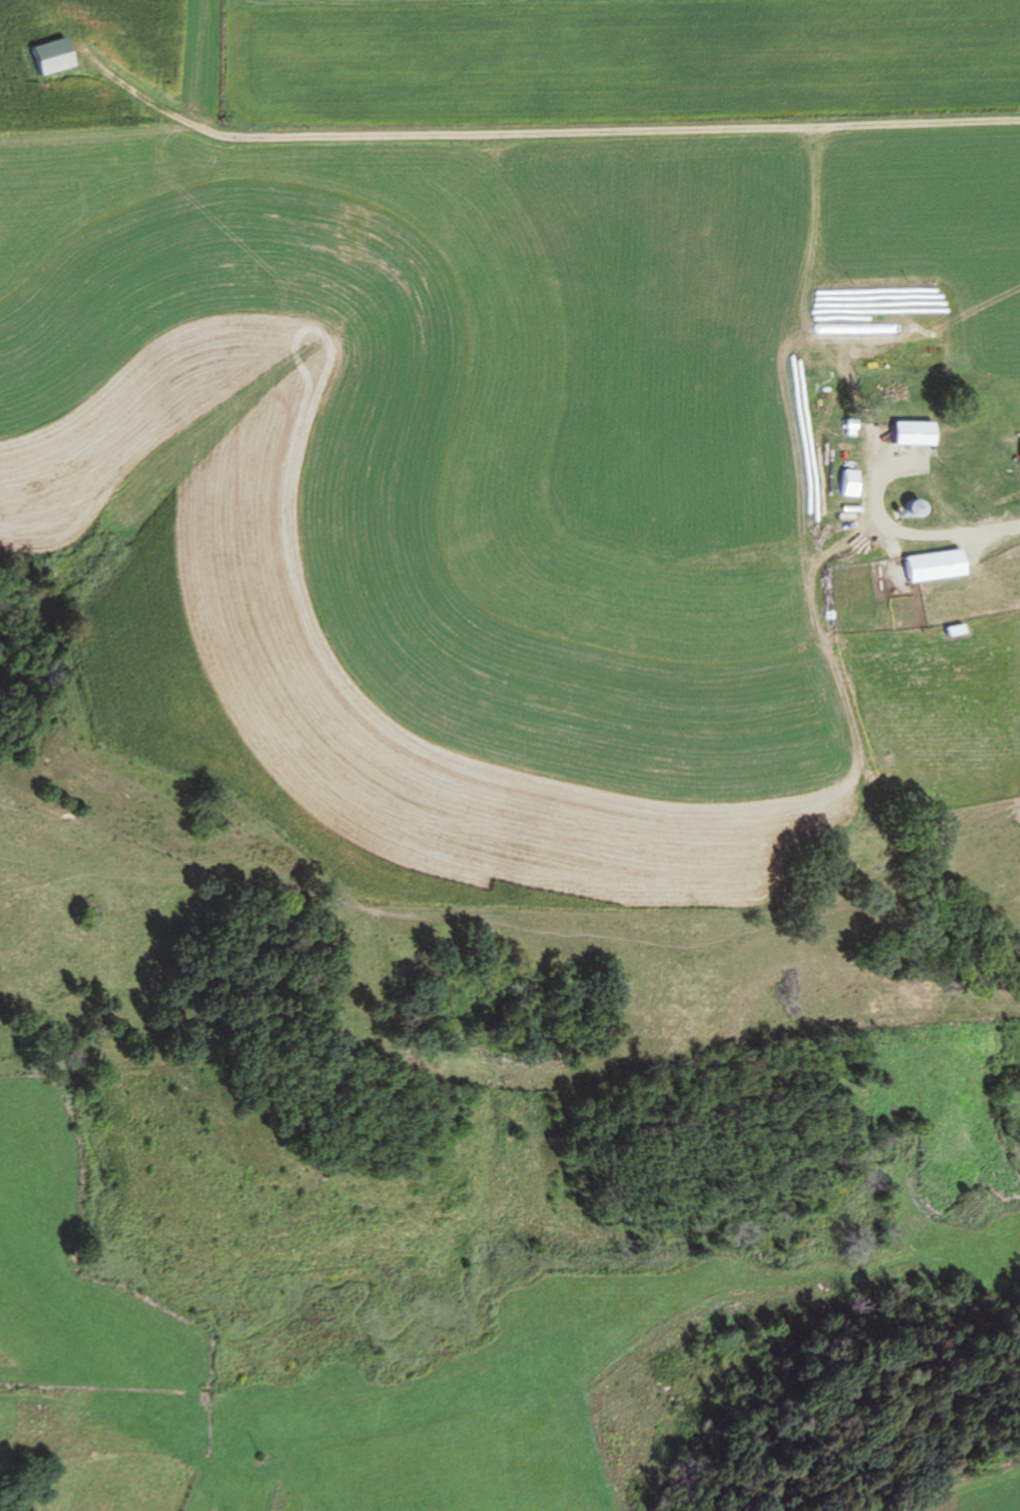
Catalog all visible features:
building: (52, 58)
building: (916, 435)
building: (937, 568)
building: (956, 632)

